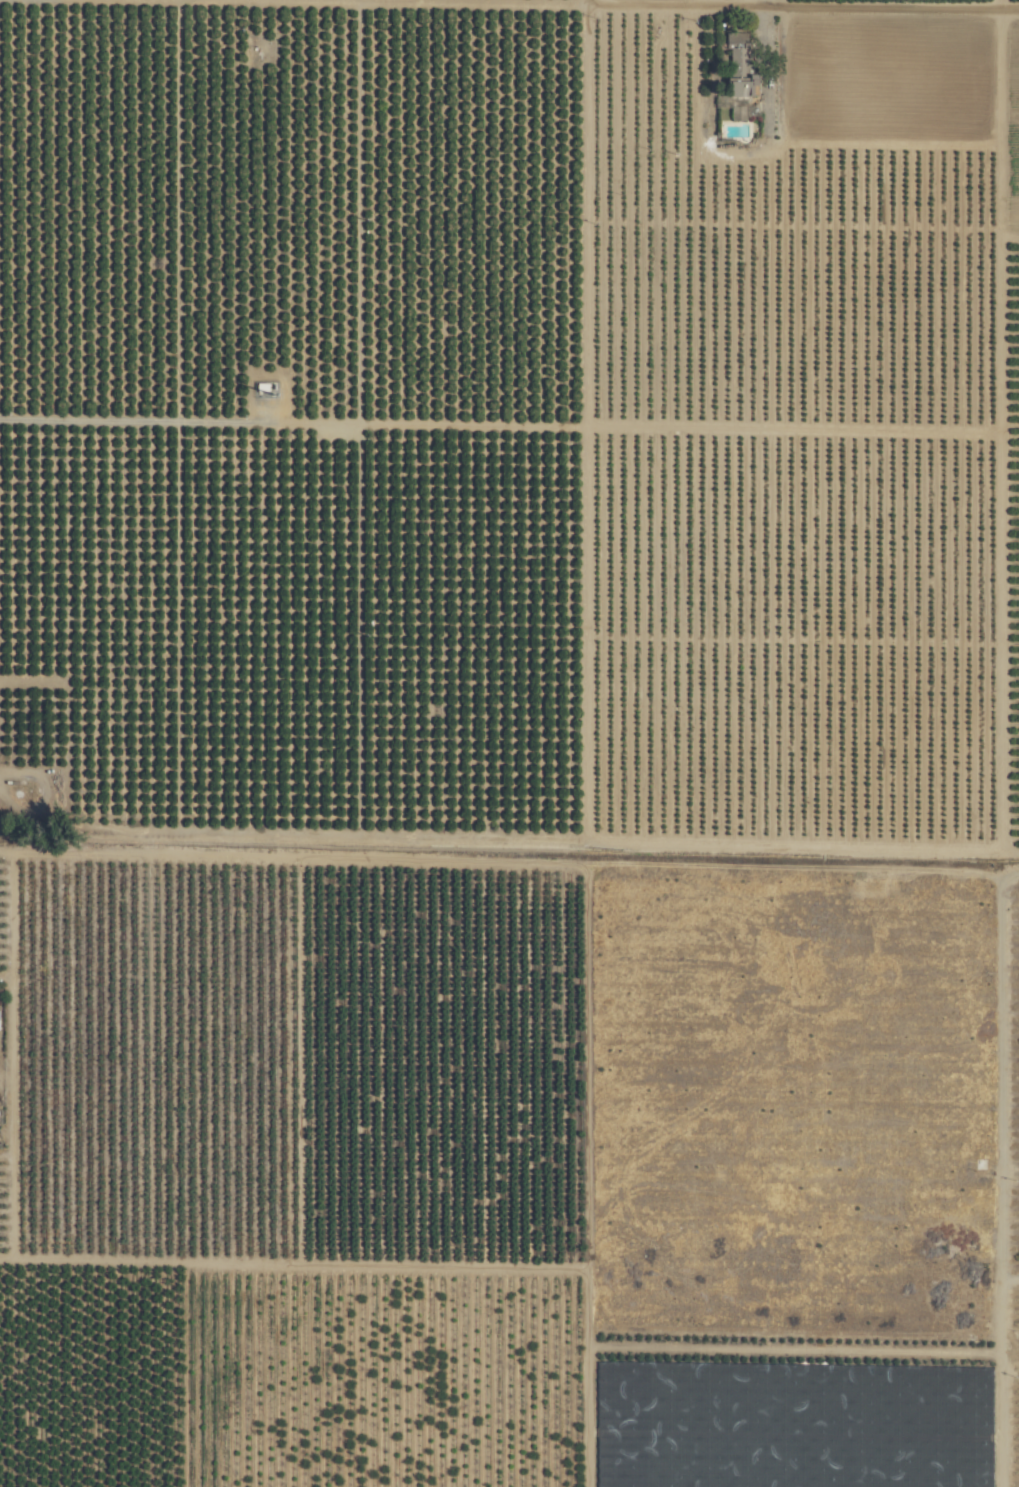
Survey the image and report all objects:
road: (734, 0)
road: (835, 1)
crop: (509, 743)

